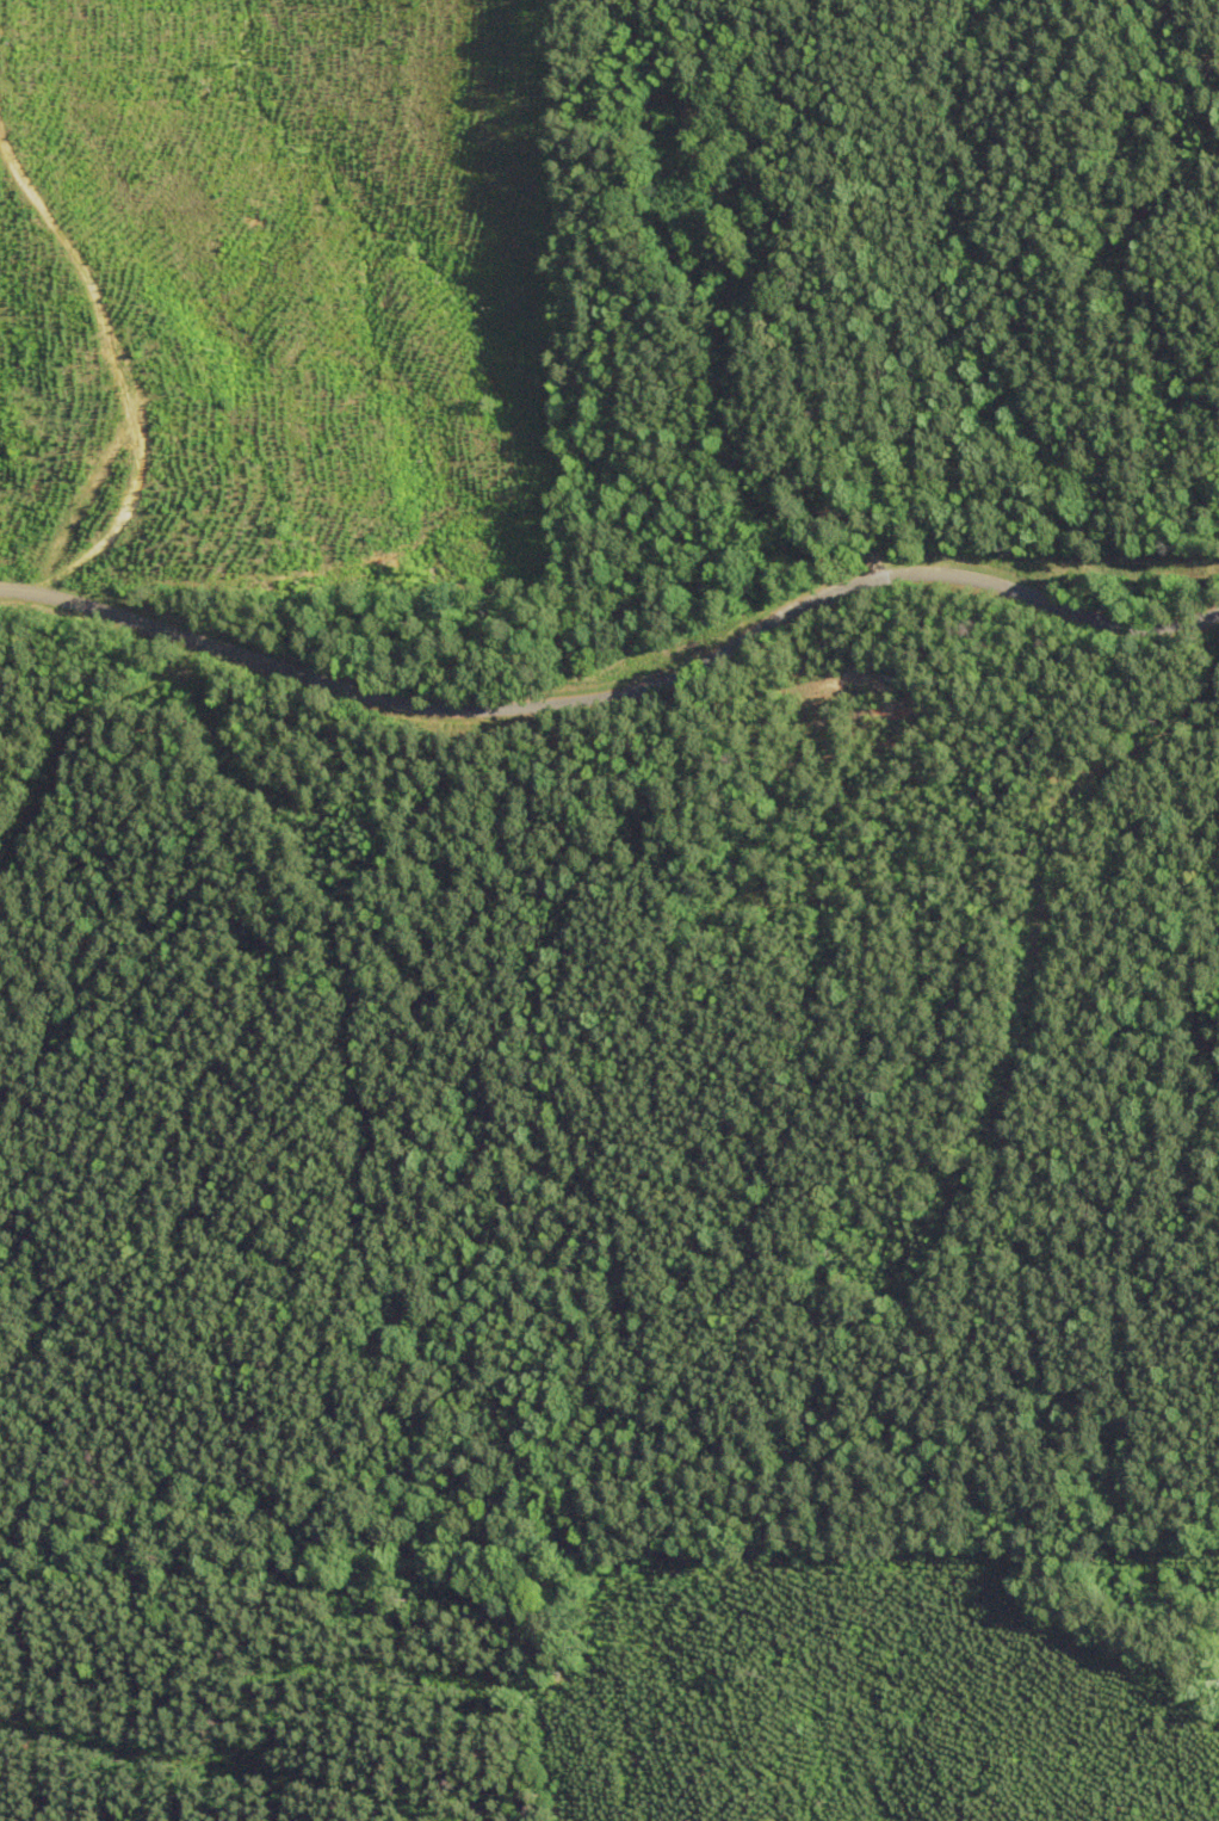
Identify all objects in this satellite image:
road: (614, 715)

